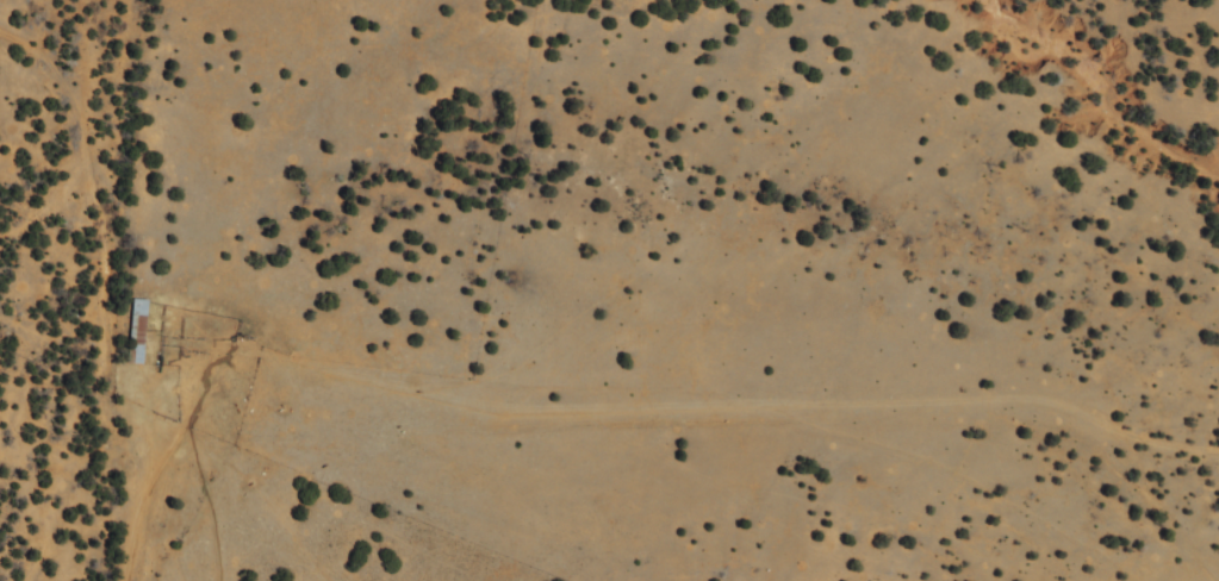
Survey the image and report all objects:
building: (139, 331)

